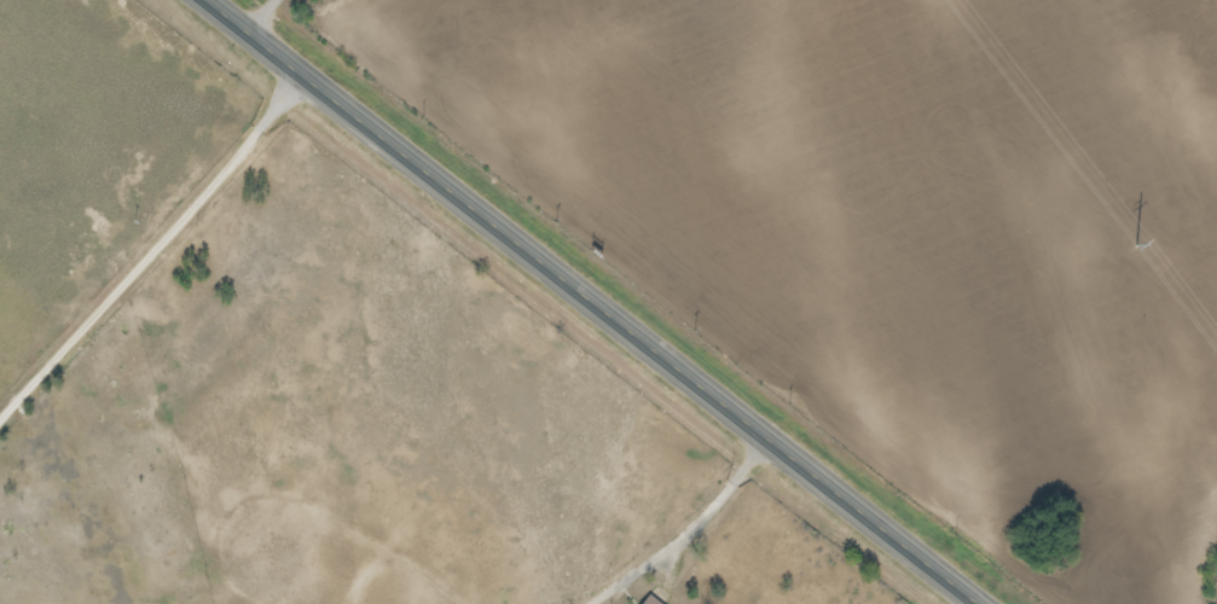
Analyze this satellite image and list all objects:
road: (270, 16)
power tower: (1126, 234)
road: (597, 302)
railway: (638, 302)
building: (648, 602)

